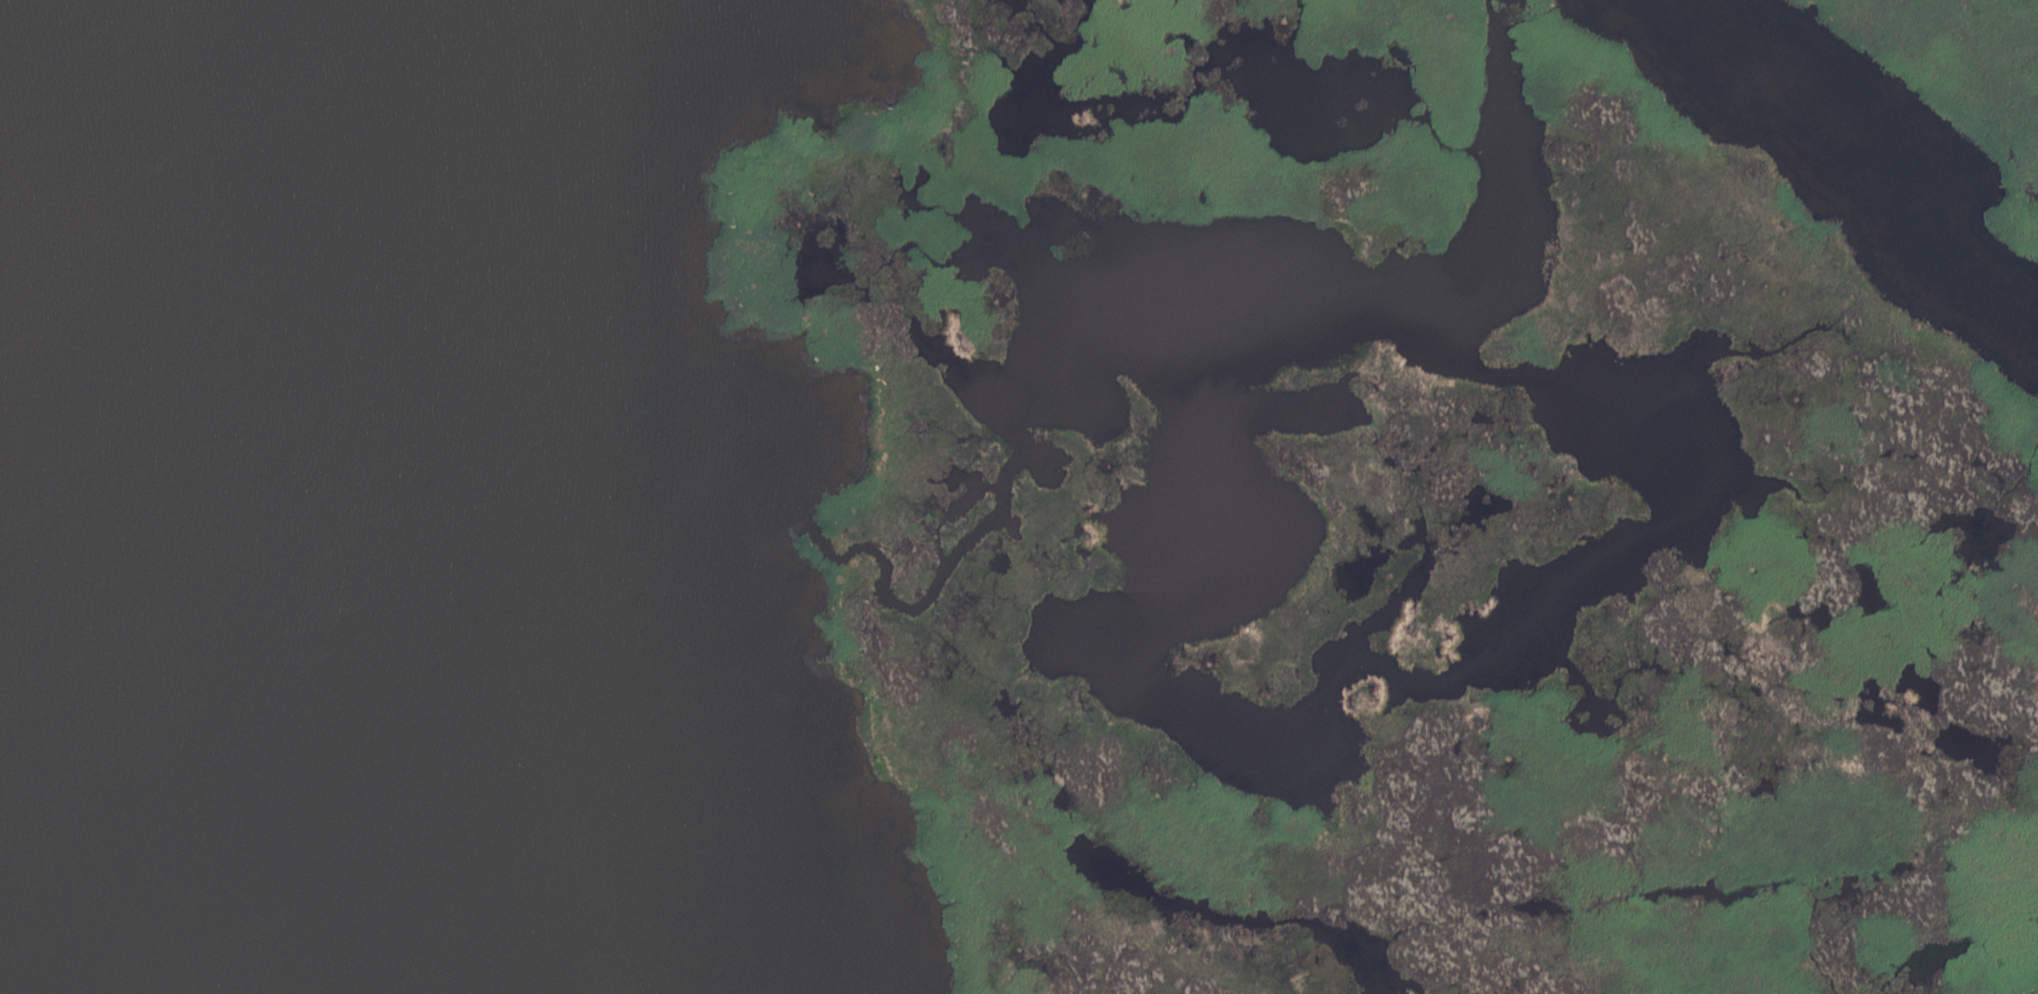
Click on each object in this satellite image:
river: (55, 863)

